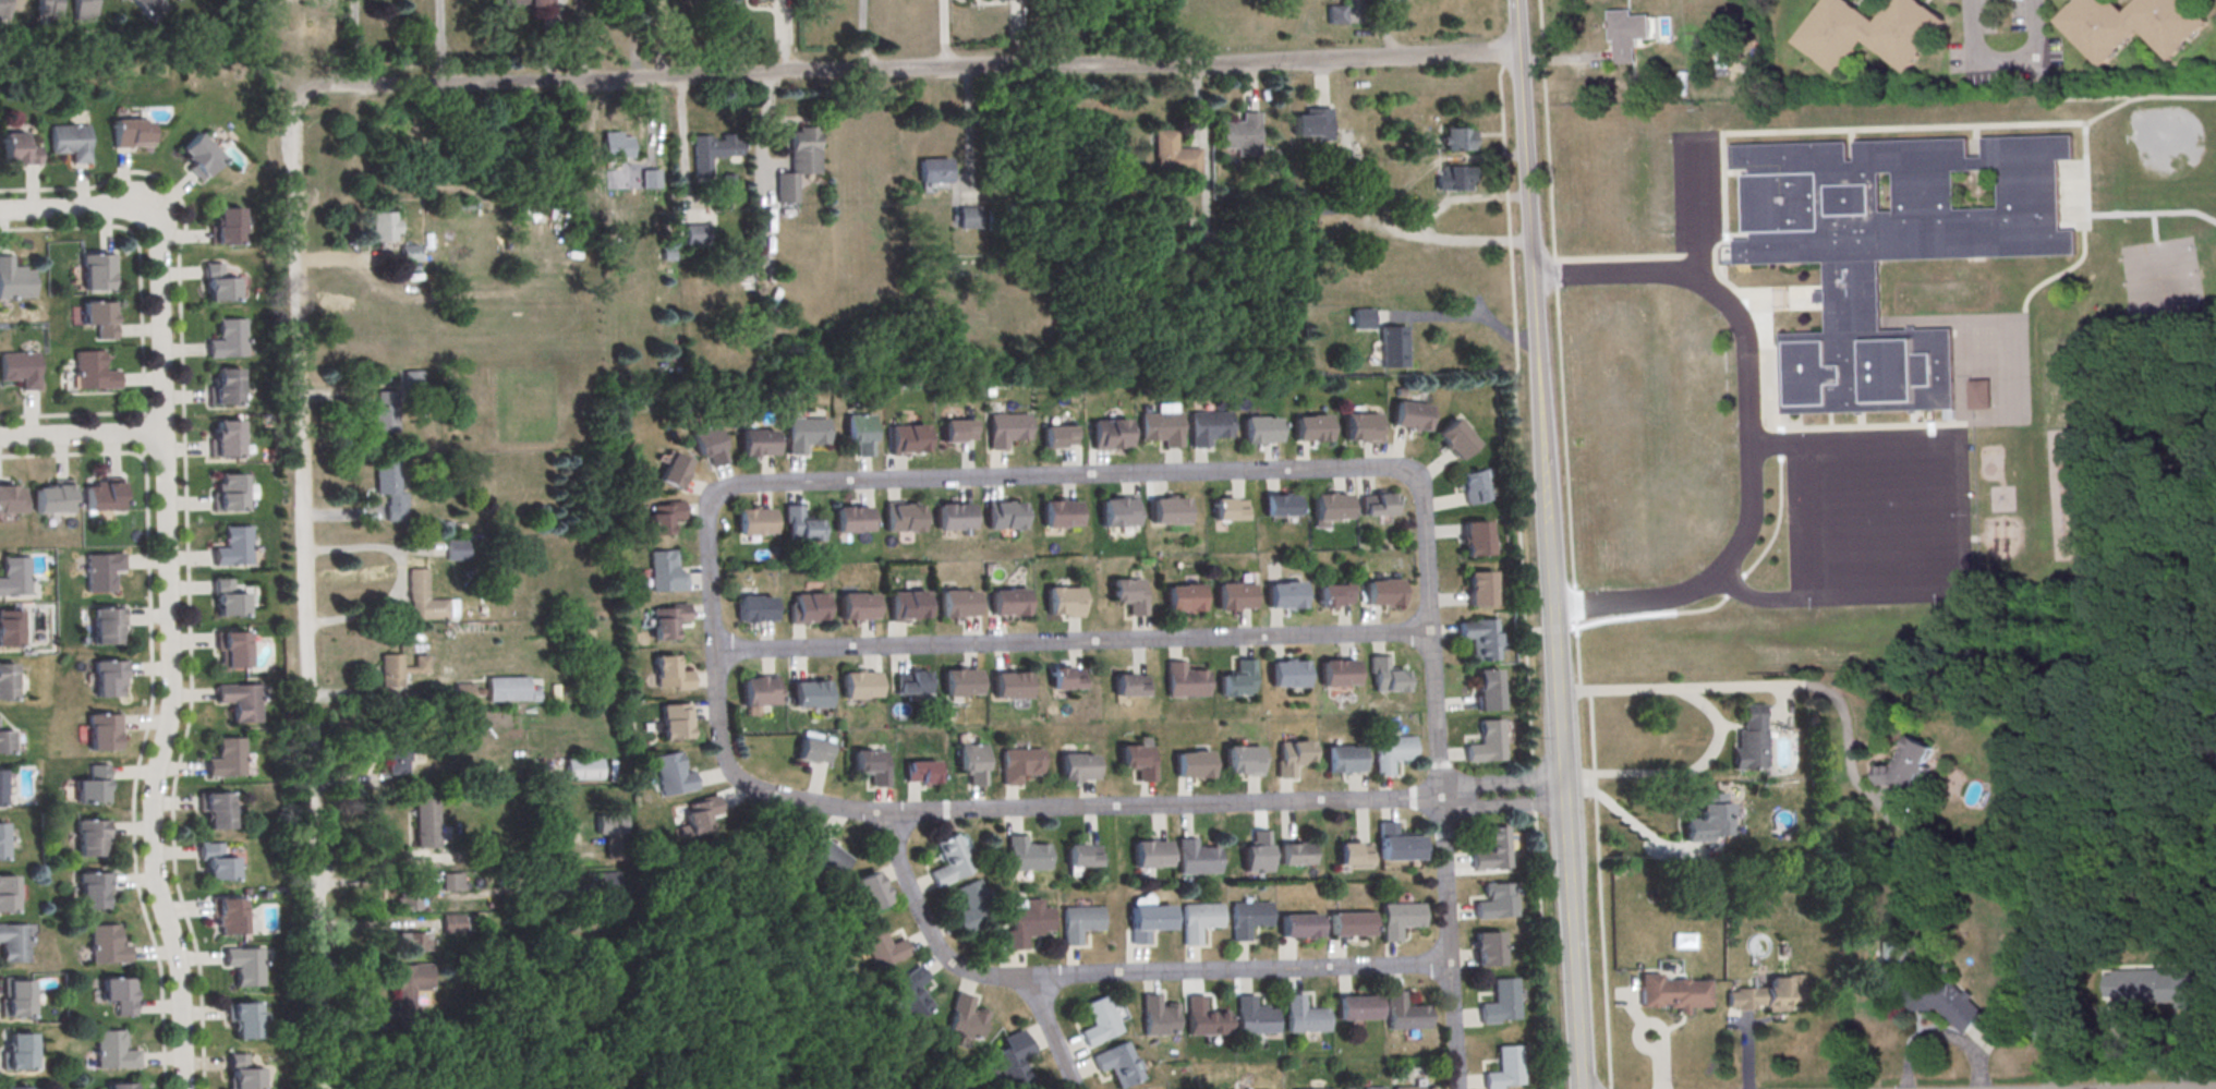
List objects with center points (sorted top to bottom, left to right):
building: (121, 0)
building: (759, 0)
building: (995, 0)
building: (177, 1)
building: (525, 3)
building: (149, 8)
building: (3, 9)
building: (84, 9)
building: (49, 10)
building: (1336, 15)
building: (2129, 26)
road: (942, 34)
road: (1018, 34)
building: (1869, 34)
road: (780, 35)
road: (861, 35)
building: (1627, 35)
road: (579, 39)
road: (440, 43)
road: (354, 44)
road: (1567, 59)
road: (2002, 64)
road: (907, 68)
road: (2123, 101)
road: (650, 123)
building: (1312, 125)
building: (129, 135)
building: (1240, 136)
road: (967, 138)
building: (1457, 141)
building: (69, 143)
building: (615, 146)
building: (19, 149)
road: (681, 150)
building: (711, 153)
building: (198, 155)
building: (1175, 158)
building: (797, 162)
building: (933, 172)
building: (649, 180)
building: (1454, 181)
road: (1723, 186)
road: (69, 206)
building: (968, 219)
road: (1426, 223)
building: (227, 226)
building: (383, 228)
road: (2088, 234)
building: (694, 235)
building: (1196, 242)
building: (1890, 252)
road: (137, 253)
building: (409, 255)
road: (346, 258)
building: (97, 270)
building: (15, 279)
road: (1707, 283)
building: (217, 286)
building: (99, 317)
road: (1456, 317)
building: (1361, 320)
building: (228, 338)
building: (1392, 349)
building: (20, 367)
building: (93, 371)
building: (412, 383)
building: (225, 386)
road: (1562, 389)
building: (1985, 398)
road: (335, 399)
road: (142, 412)
road: (69, 413)
building: (385, 414)
building: (1409, 418)
building: (1209, 428)
building: (1360, 428)
building: (1161, 429)
road: (162, 431)
building: (1006, 431)
building: (1310, 431)
building: (1259, 432)
building: (957, 433)
road: (1780, 434)
road: (82, 435)
building: (804, 435)
building: (859, 436)
building: (1109, 437)
building: (226, 438)
building: (1057, 438)
building: (1455, 439)
building: (906, 441)
building: (709, 444)
building: (755, 445)
road: (1772, 446)
road: (1781, 447)
road: (143, 452)
building: (673, 473)
road: (1040, 476)
building: (1472, 489)
building: (229, 492)
building: (389, 492)
building: (102, 495)
building: (52, 496)
building: (11, 498)
building: (1377, 504)
building: (1279, 507)
building: (1330, 509)
building: (1227, 511)
road: (1962, 512)
building: (1167, 513)
building: (1117, 516)
road: (341, 517)
building: (1058, 517)
building: (1003, 518)
building: (663, 519)
building: (954, 519)
building: (901, 520)
road: (1795, 520)
building: (851, 521)
building: (753, 524)
road: (1779, 525)
building: (800, 527)
building: (1476, 537)
road: (1551, 544)
building: (233, 546)
road: (187, 548)
building: (457, 550)
road: (1732, 555)
building: (101, 570)
building: (665, 573)
building: (14, 574)
road: (401, 576)
building: (1480, 588)
road: (1735, 590)
road: (300, 591)
building: (1334, 595)
building: (1380, 595)
road: (1637, 596)
building: (1129, 597)
building: (1184, 597)
building: (1283, 597)
building: (1233, 598)
building: (227, 601)
building: (427, 601)
building: (1065, 604)
building: (1008, 605)
building: (957, 606)
building: (907, 608)
building: (857, 609)
building: (806, 610)
building: (754, 612)
road: (1654, 617)
building: (668, 622)
building: (11, 627)
building: (105, 628)
building: (1479, 640)
road: (1070, 641)
road: (171, 645)
building: (233, 652)
building: (390, 673)
building: (670, 676)
building: (1336, 676)
building: (1066, 677)
building: (1286, 677)
building: (1384, 677)
building: (7, 681)
building: (107, 681)
building: (1237, 681)
building: (1184, 682)
building: (960, 685)
building: (910, 686)
building: (859, 688)
building: (1010, 688)
building: (1130, 688)
road: (1766, 688)
building: (506, 691)
building: (1487, 692)
building: (758, 693)
building: (463, 694)
building: (809, 697)
road: (152, 703)
building: (240, 703)
building: (675, 721)
road: (716, 729)
building: (104, 730)
building: (5, 740)
building: (1751, 741)
building: (1486, 745)
building: (814, 750)
building: (397, 751)
building: (1391, 754)
building: (1292, 755)
building: (227, 757)
building: (1138, 761)
building: (972, 762)
building: (1242, 762)
building: (1342, 762)
building: (1019, 766)
road: (1437, 766)
building: (872, 767)
building: (1191, 767)
building: (1905, 767)
building: (582, 770)
building: (1076, 770)
building: (921, 772)
road: (1684, 773)
building: (671, 776)
building: (93, 784)
building: (1, 788)
road: (1232, 802)
building: (216, 812)
building: (695, 815)
building: (1706, 821)
building: (426, 822)
building: (607, 825)
road: (1633, 825)
building: (2, 840)
building: (89, 840)
building: (1395, 847)
building: (1492, 852)
building: (1256, 856)
building: (1353, 856)
building: (1025, 857)
building: (1148, 857)
building: (1293, 857)
building: (824, 859)
building: (1082, 859)
building: (1195, 859)
building: (949, 862)
building: (216, 864)
road: (377, 882)
building: (451, 884)
building: (607, 887)
building: (870, 890)
building: (8, 893)
building: (92, 893)
building: (407, 900)
building: (1496, 904)
building: (971, 906)
building: (228, 919)
building: (1247, 920)
building: (1199, 922)
building: (1398, 922)
building: (1079, 924)
building: (1147, 924)
building: (451, 925)
building: (1027, 925)
road: (925, 927)
building: (1349, 927)
building: (1298, 929)
road: (1601, 932)
building: (14, 942)
building: (412, 944)
building: (102, 946)
building: (883, 946)
building: (1488, 953)
building: (244, 968)
road: (1238, 970)
building: (2157, 990)
building: (911, 992)
building: (119, 994)
building: (409, 994)
building: (1673, 995)
building: (17, 997)
building: (1769, 997)
building: (1501, 1004)
building: (1941, 1004)
building: (1356, 1011)
building: (1404, 1016)
building: (966, 1018)
building: (1158, 1018)
building: (1254, 1019)
building: (1303, 1019)
building: (1203, 1021)
building: (243, 1023)
building: (1099, 1024)
road: (355, 1025)
building: (2047, 1027)
road: (1940, 1030)
road: (1049, 1032)
road: (1746, 1051)
building: (19, 1052)
building: (112, 1053)
building: (1014, 1060)
building: (1115, 1067)
building: (1505, 1070)
building: (241, 1074)
building: (14, 1087)
building: (1414, 1087)
building: (120, 1088)
building: (1311, 1088)
building: (1364, 1088)

